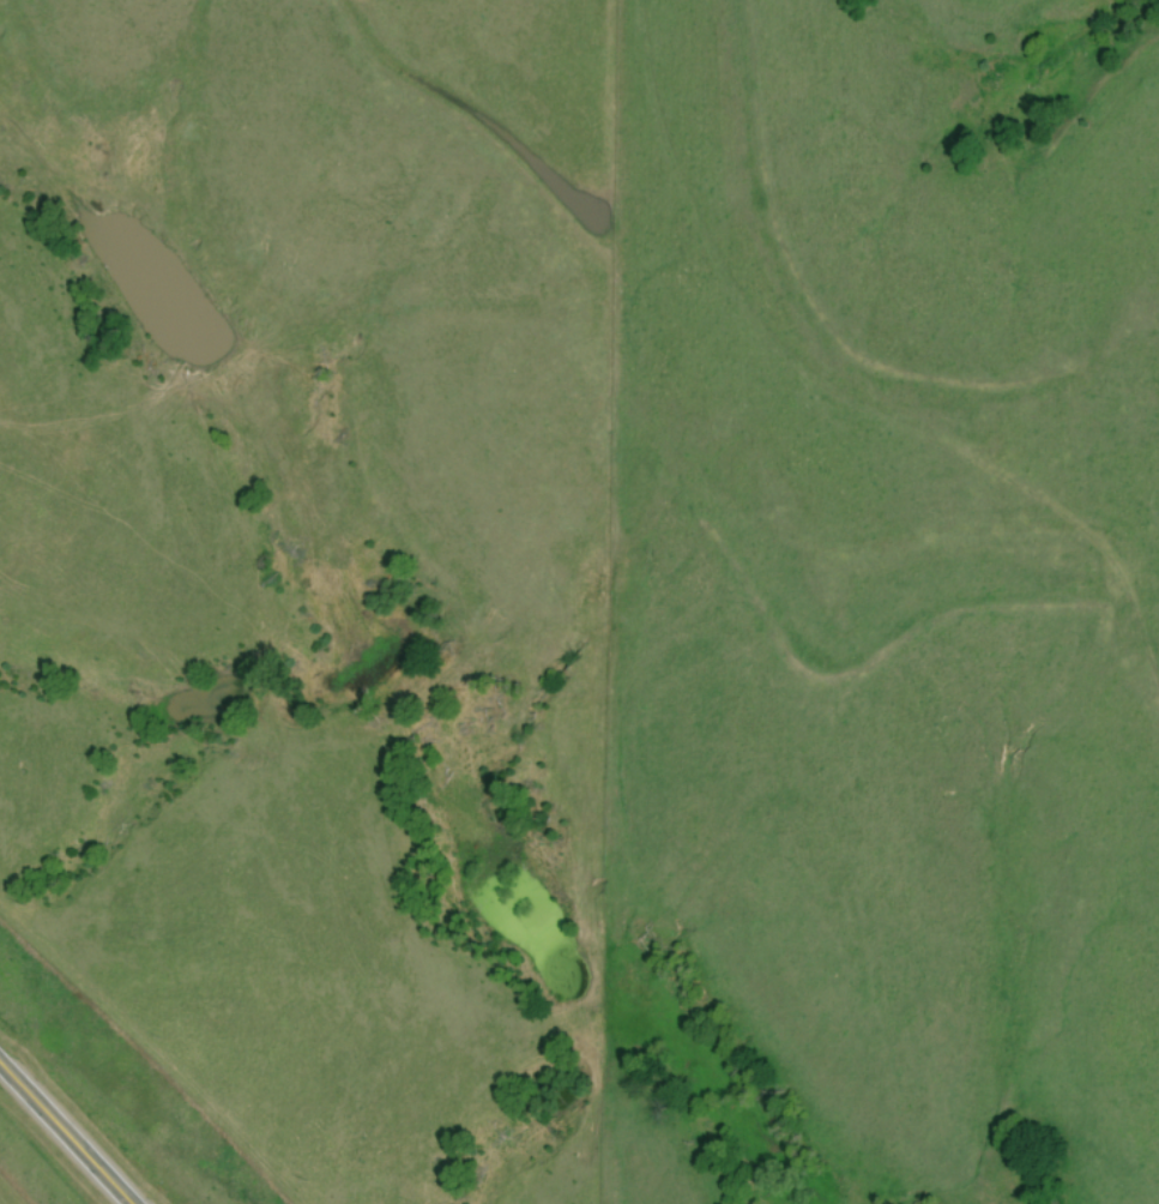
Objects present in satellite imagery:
road: (66, 1133)

